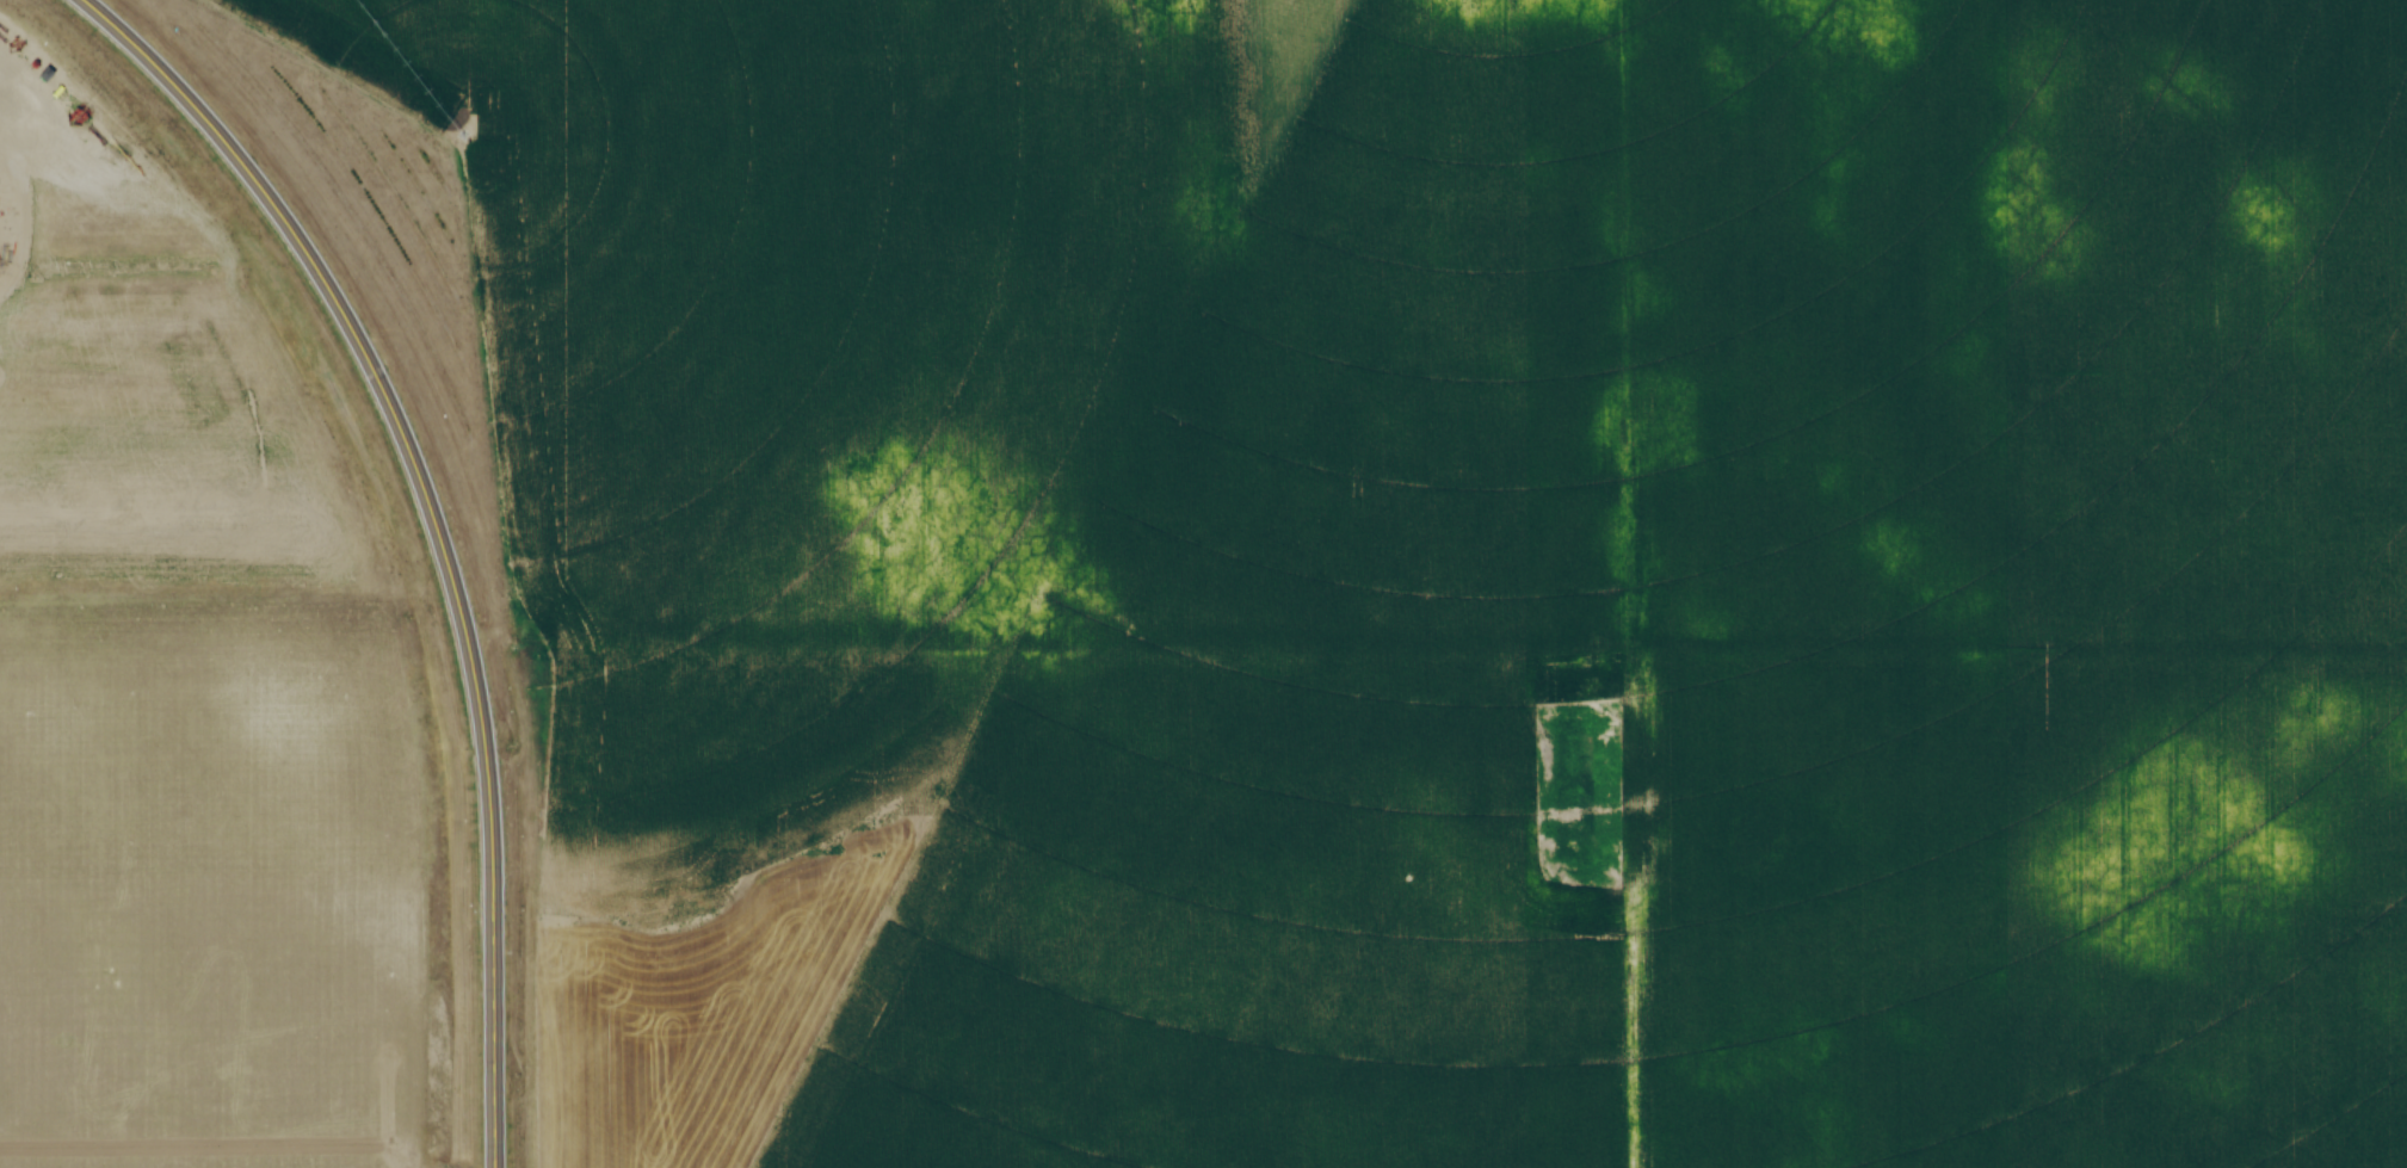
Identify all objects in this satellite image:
road: (440, 529)

